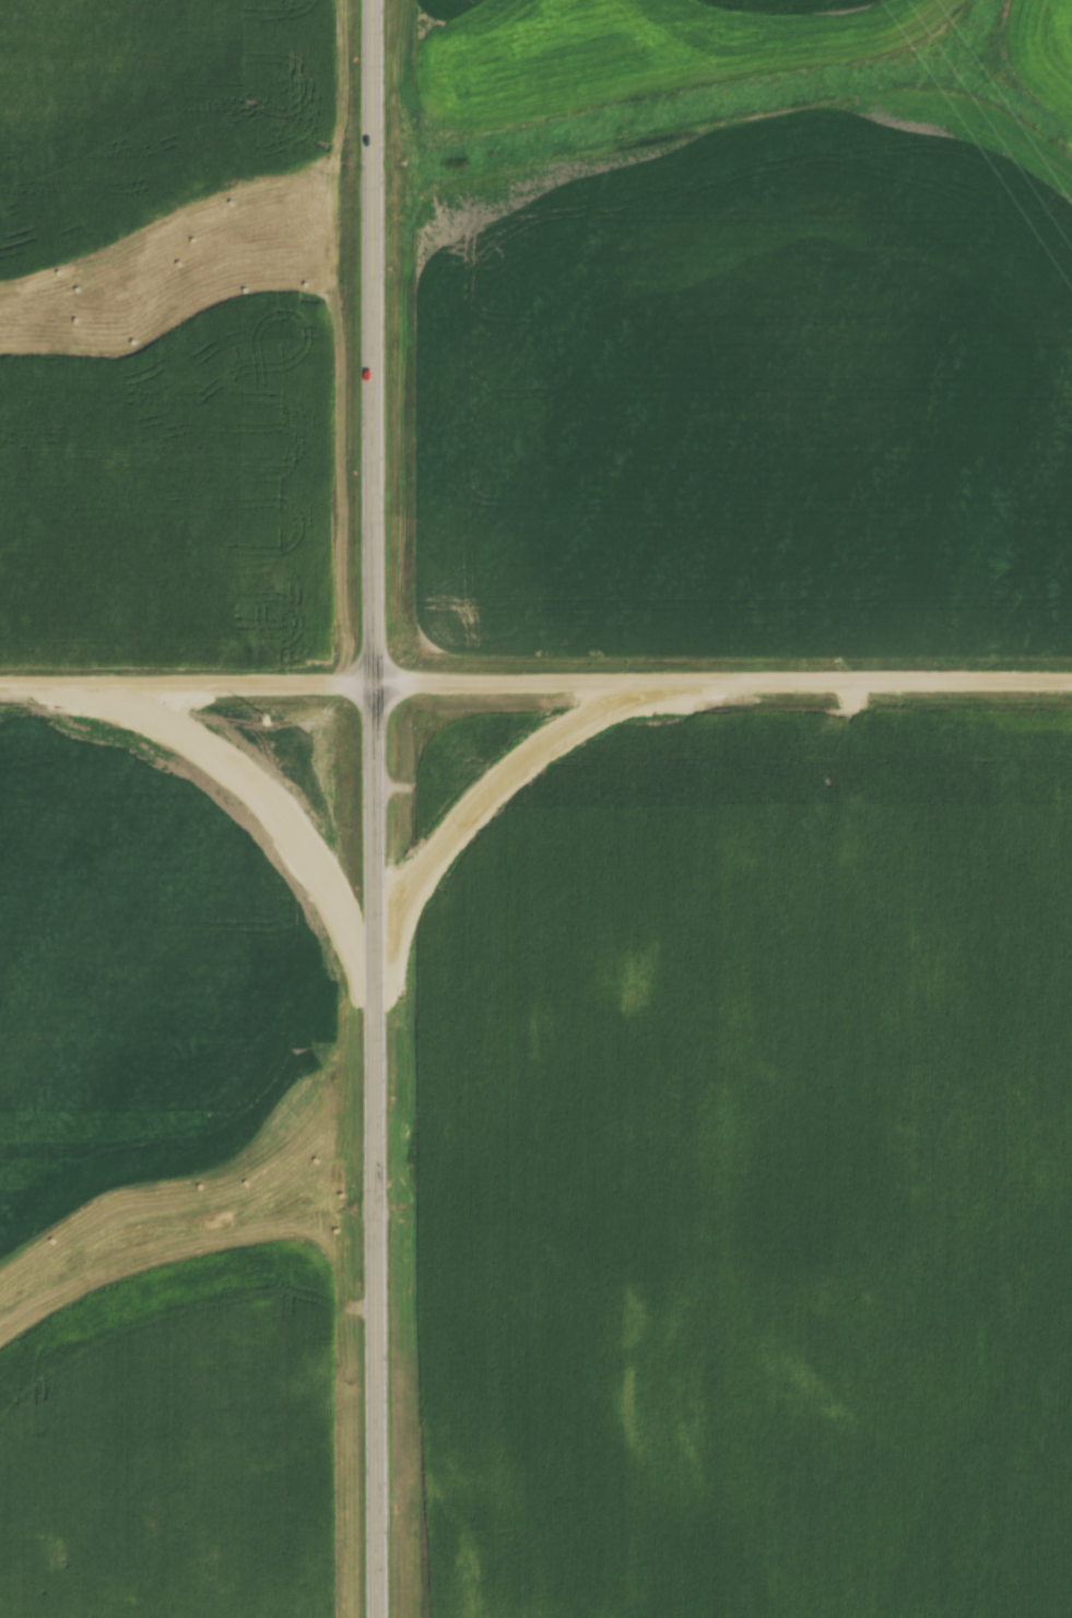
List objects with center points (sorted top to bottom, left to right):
road: (535, 676)
road: (419, 808)

